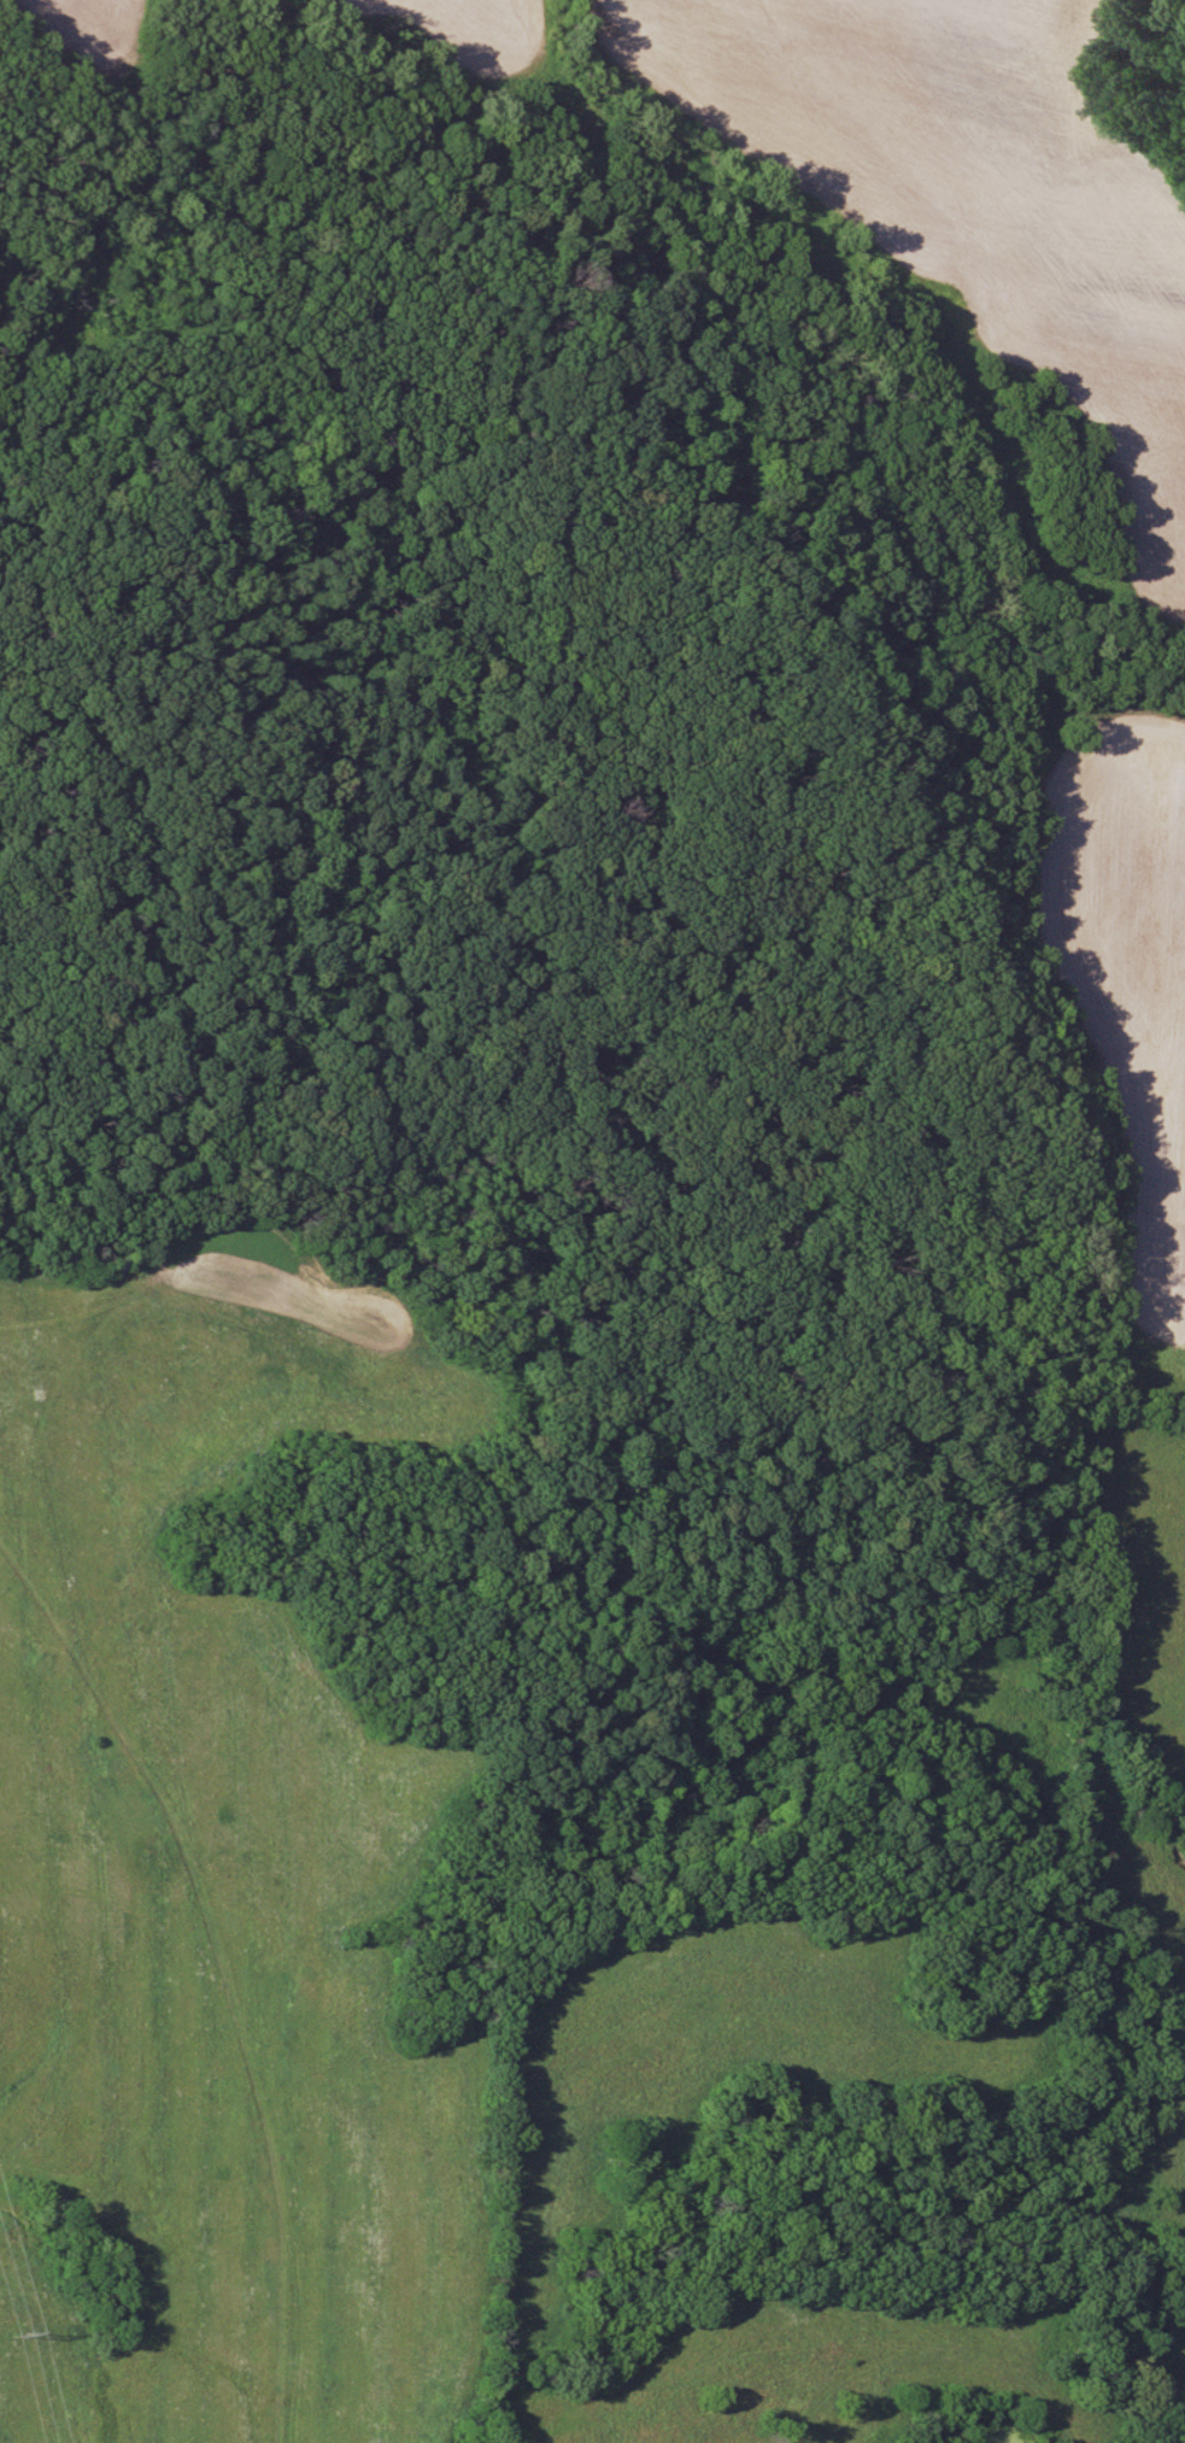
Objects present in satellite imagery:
power tower: (34, 2332)

